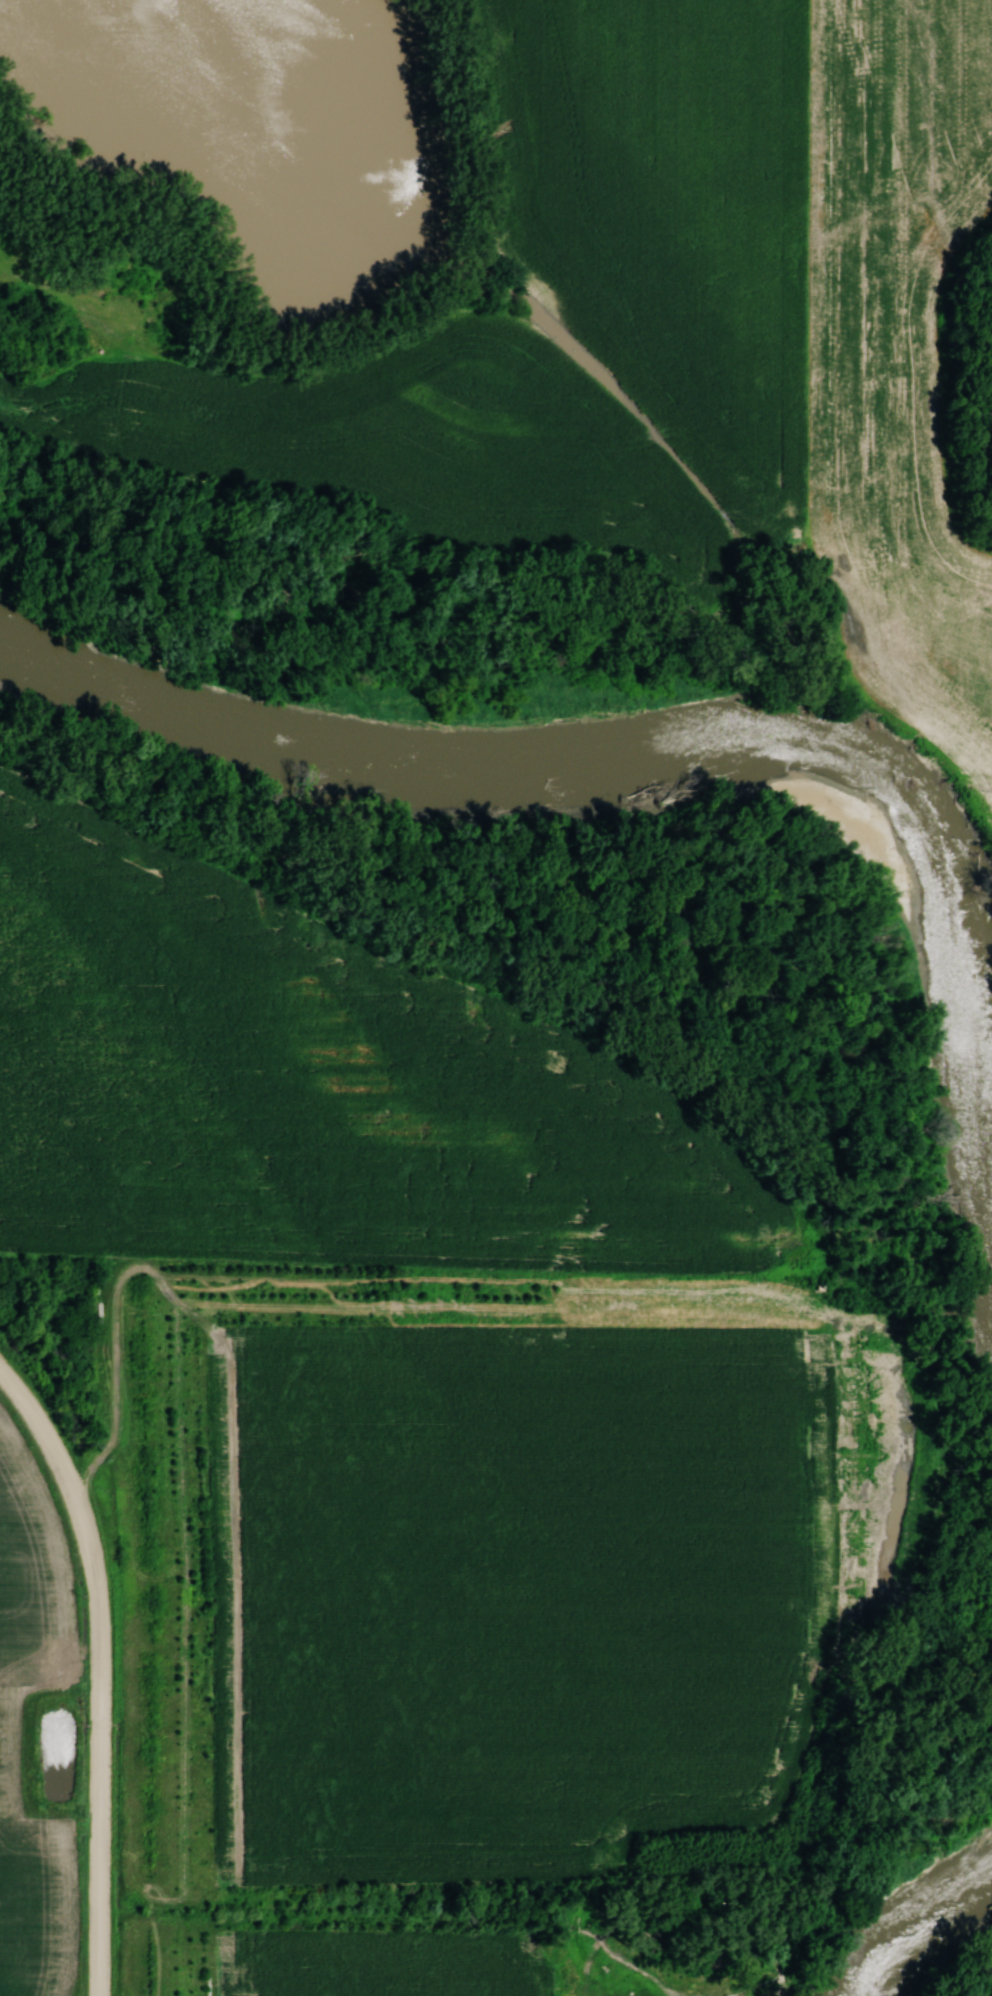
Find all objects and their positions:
river: (578, 744)
road: (105, 1669)
river: (923, 1924)

